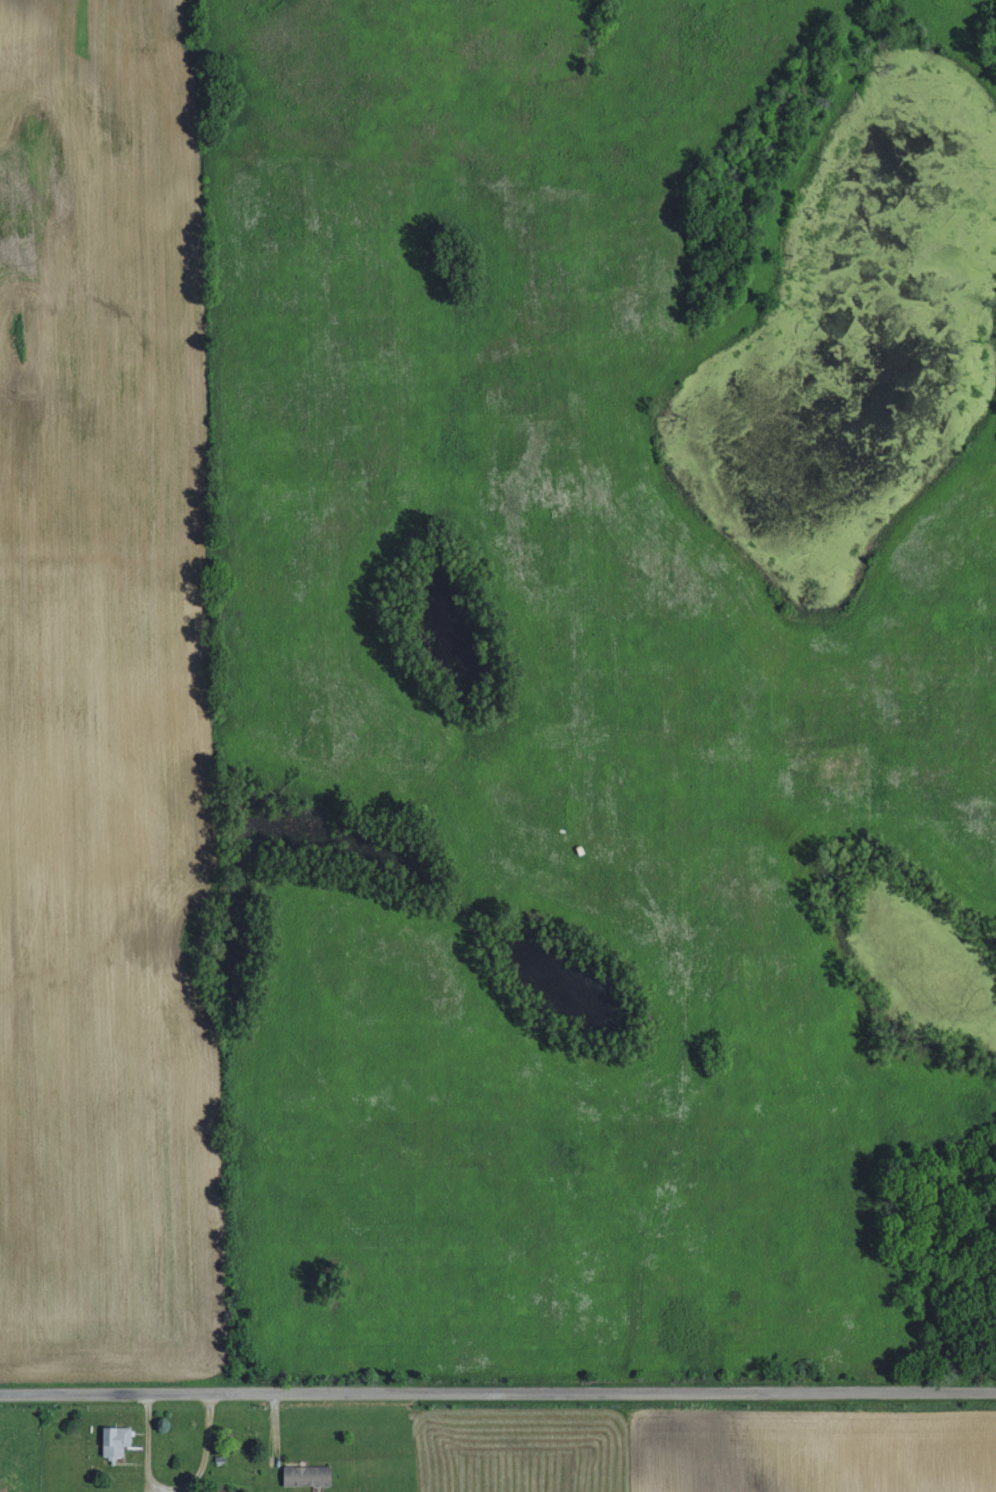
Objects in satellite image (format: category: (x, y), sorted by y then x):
road: (498, 1392)
building: (114, 1440)
building: (306, 1475)
building: (219, 1490)

